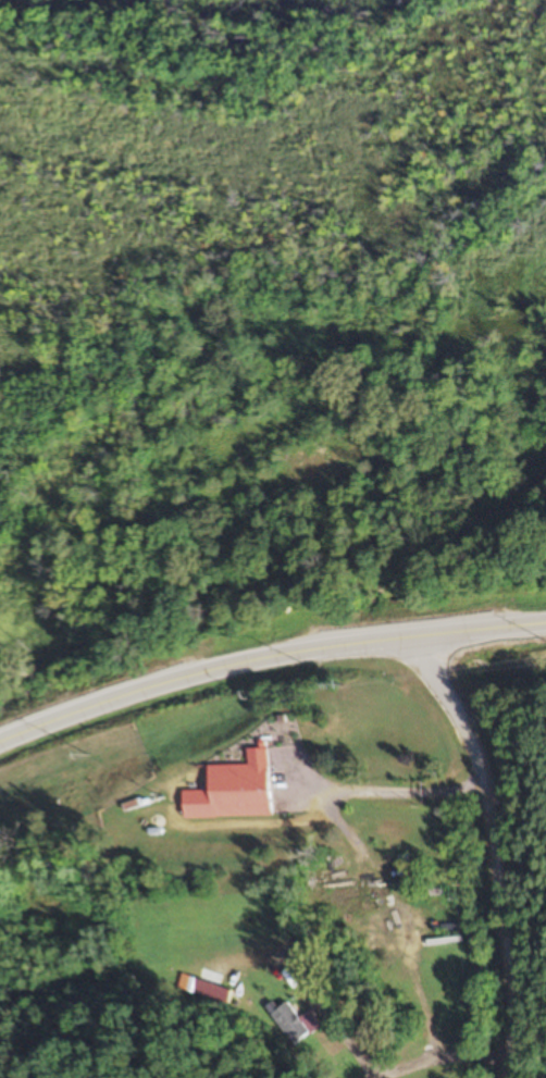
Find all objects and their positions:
road: (266, 657)
building: (244, 785)
road: (501, 847)
building: (293, 1023)

